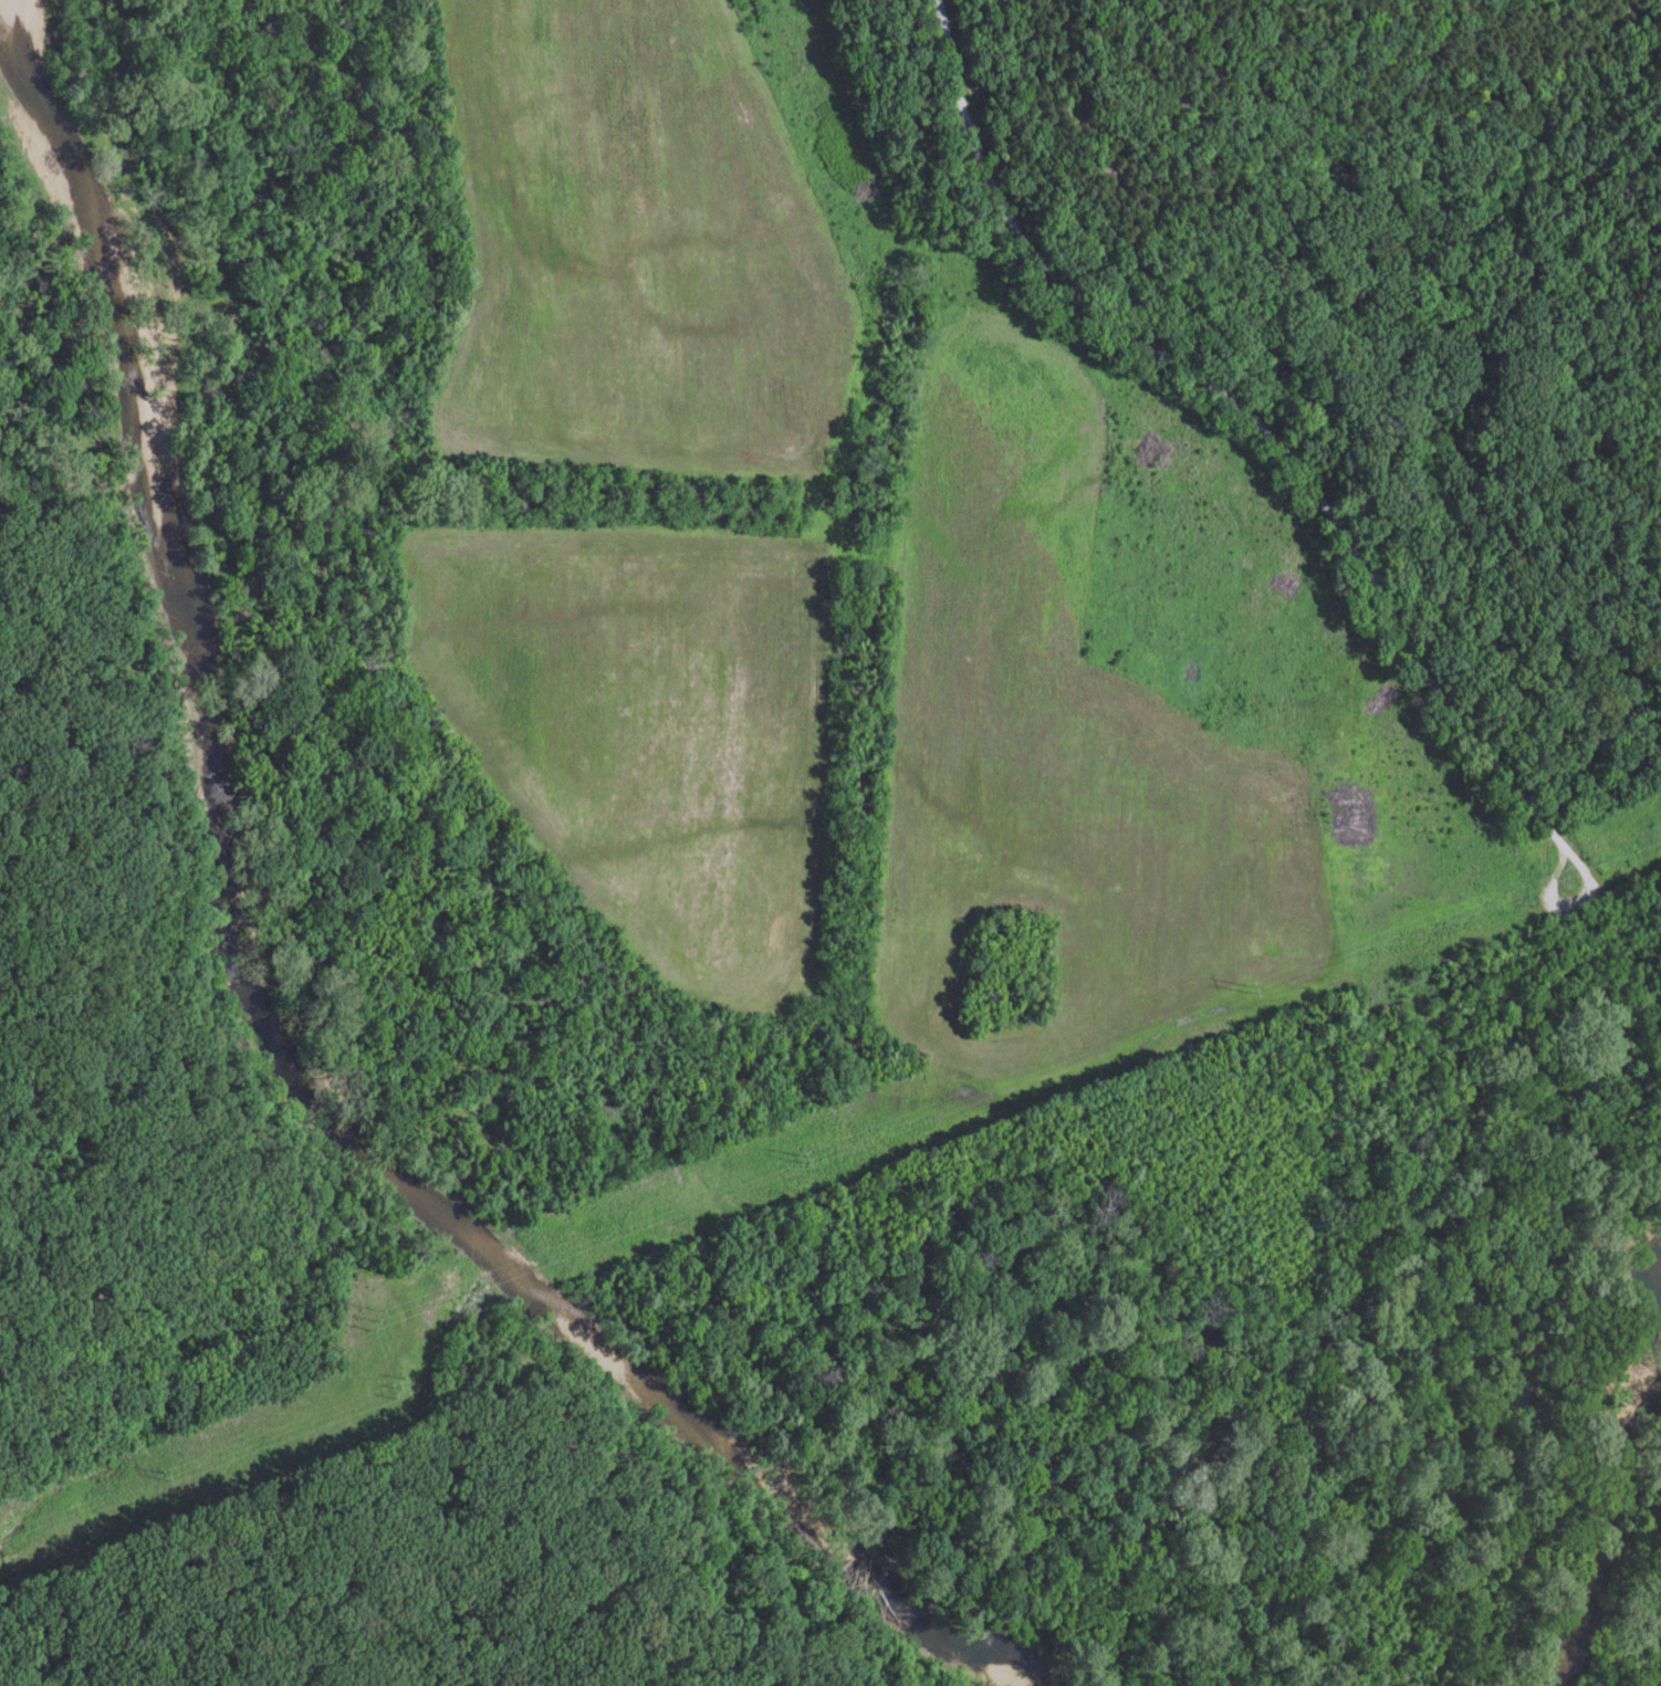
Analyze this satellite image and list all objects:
road: (1271, 425)
power tower: (1230, 988)
power tower: (787, 1153)
power tower: (351, 1310)
power tower: (379, 1386)
power tower: (142, 1476)

